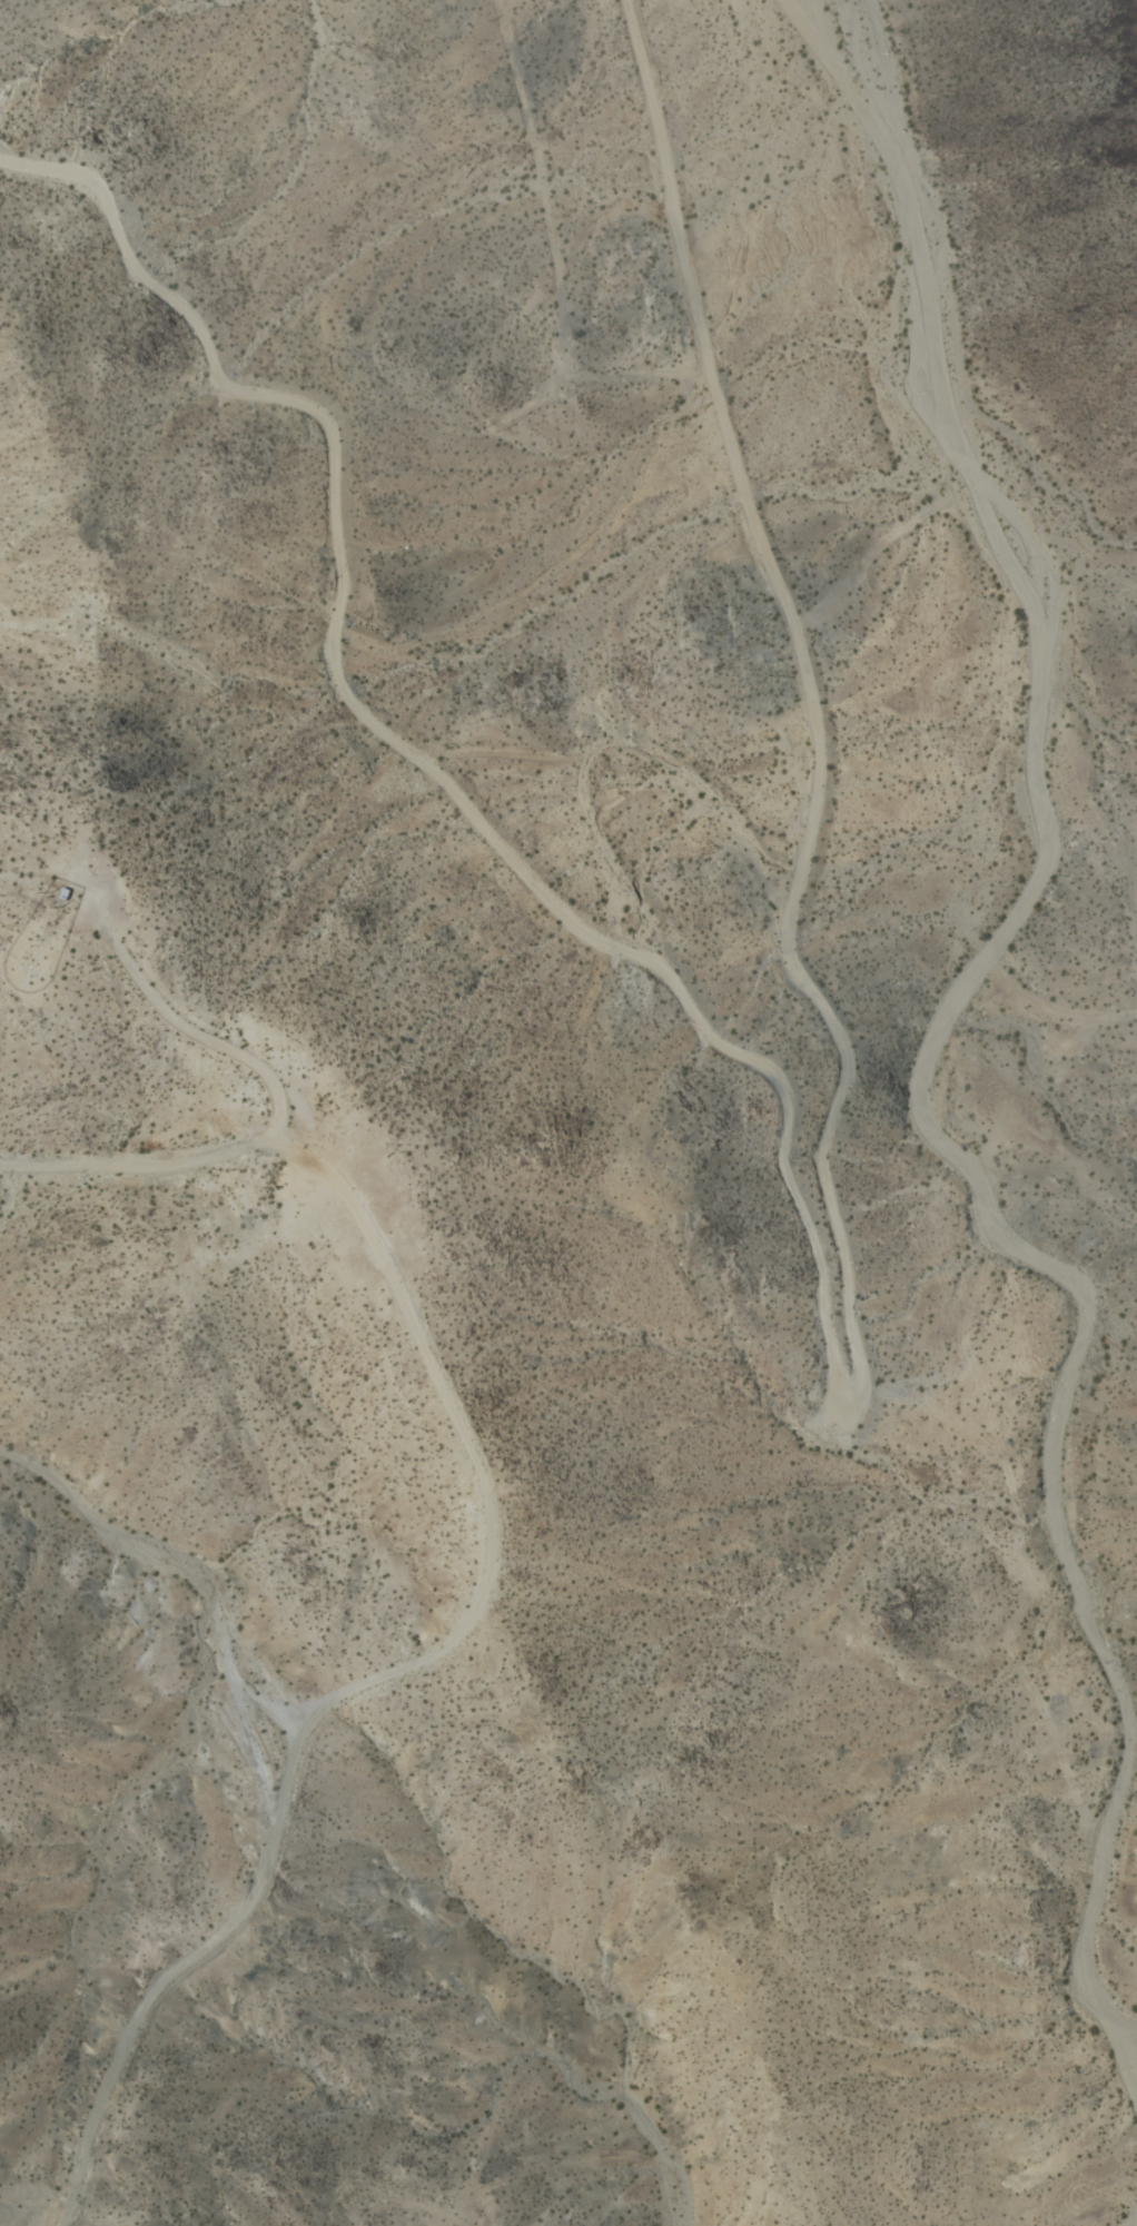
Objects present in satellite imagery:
building: (65, 893)
road: (276, 1125)
road: (827, 1324)

